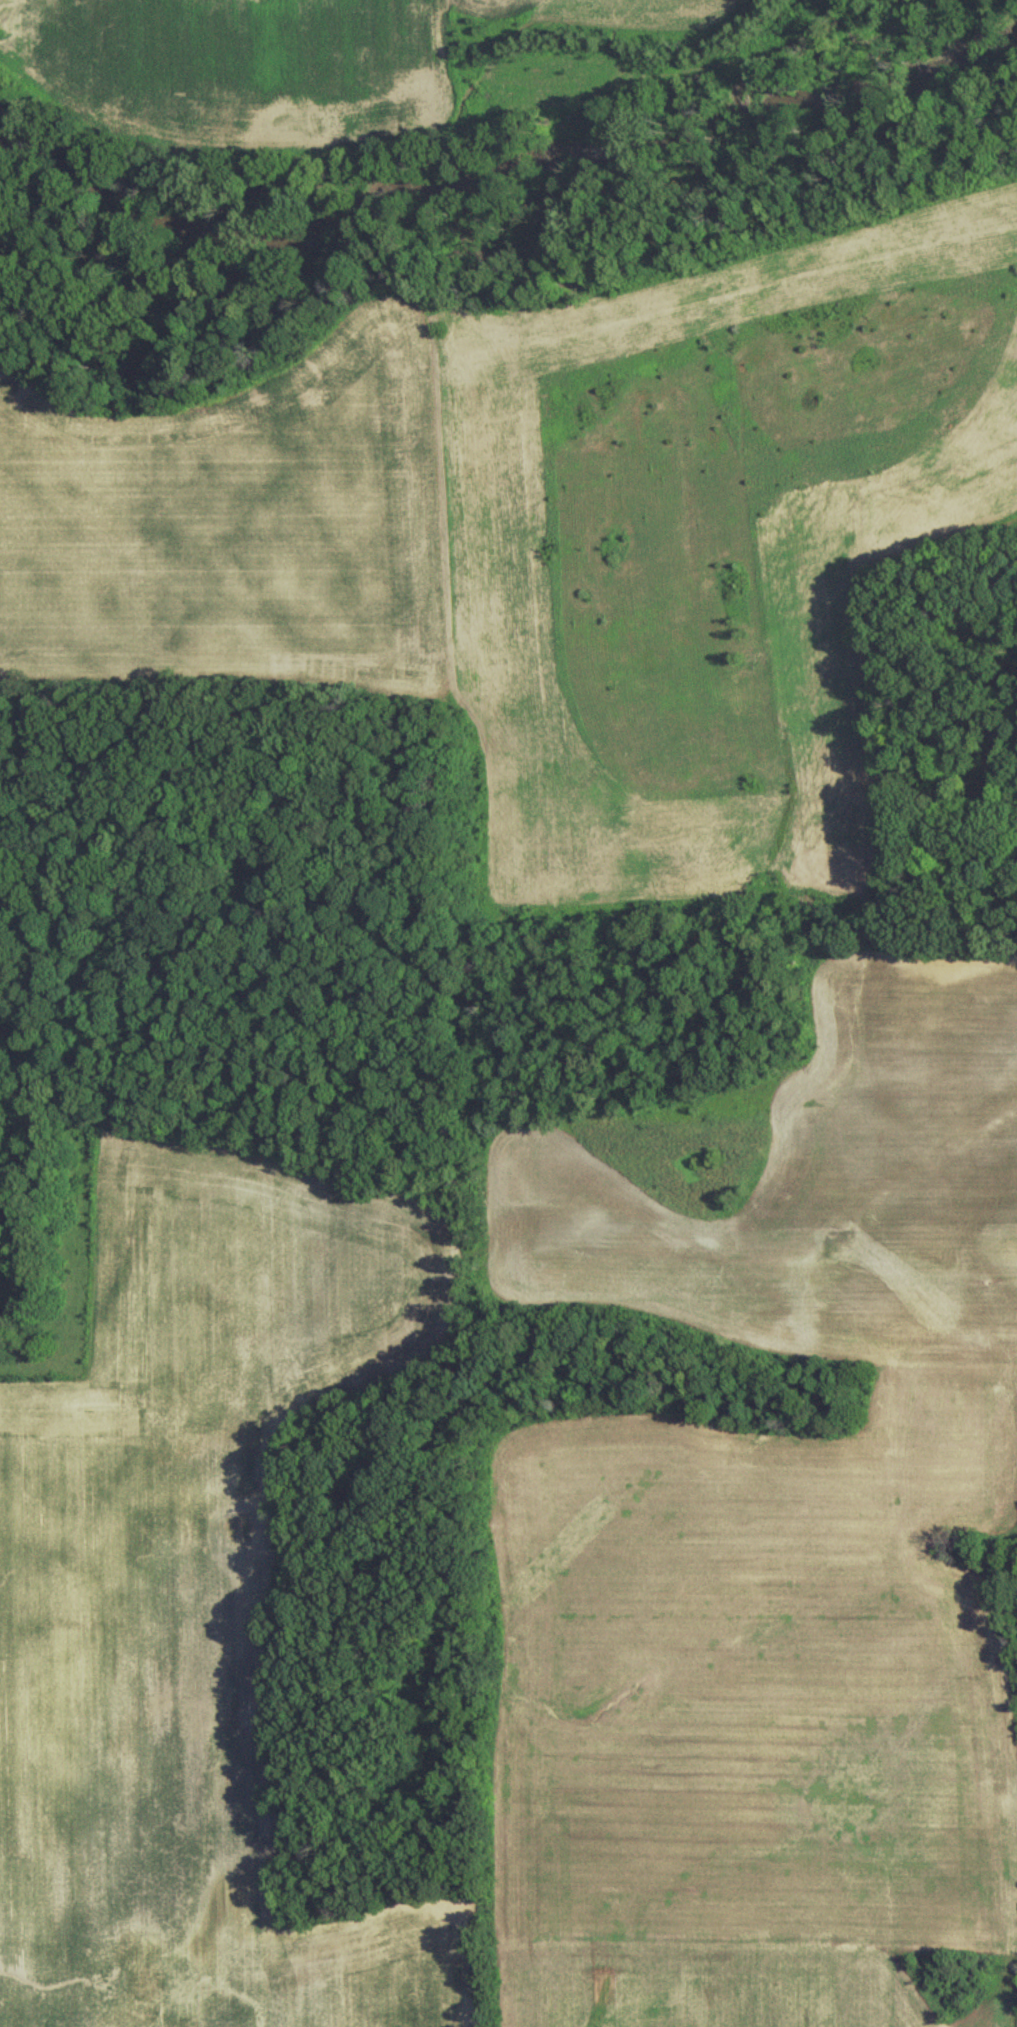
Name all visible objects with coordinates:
river: (496, 178)

